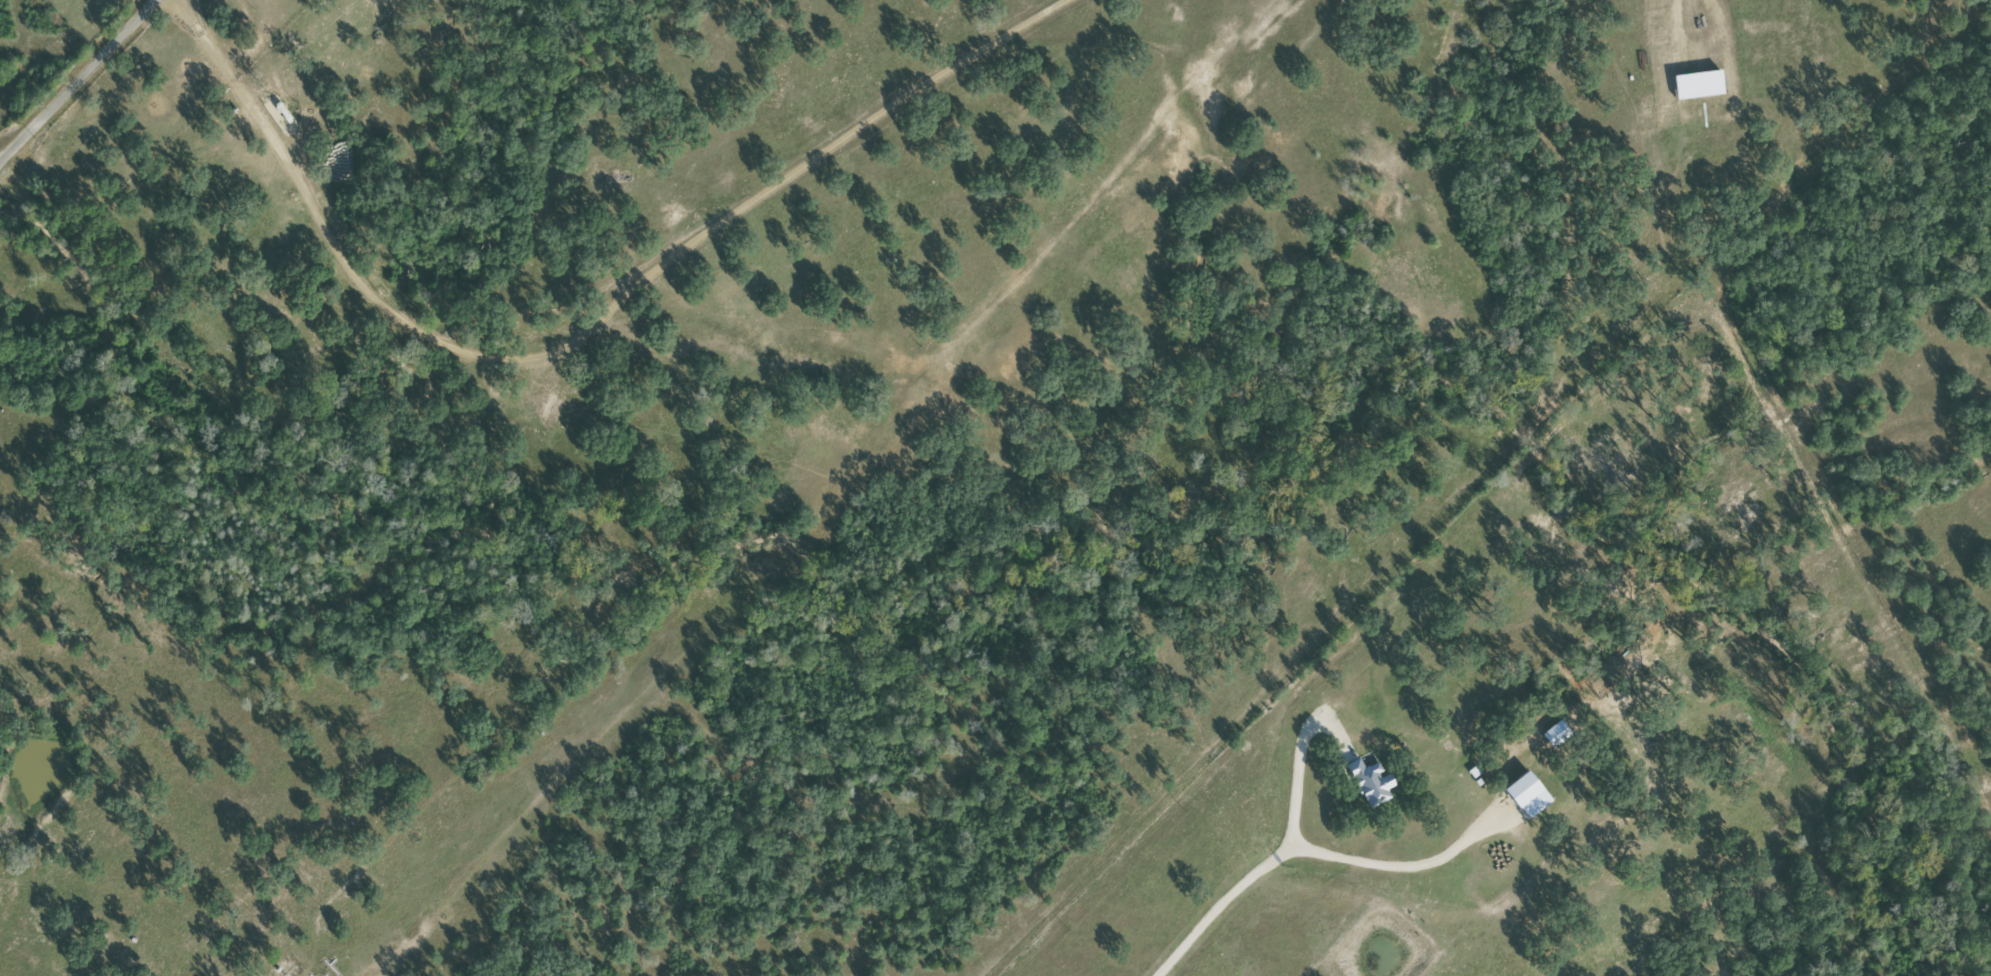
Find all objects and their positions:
road: (78, 79)

